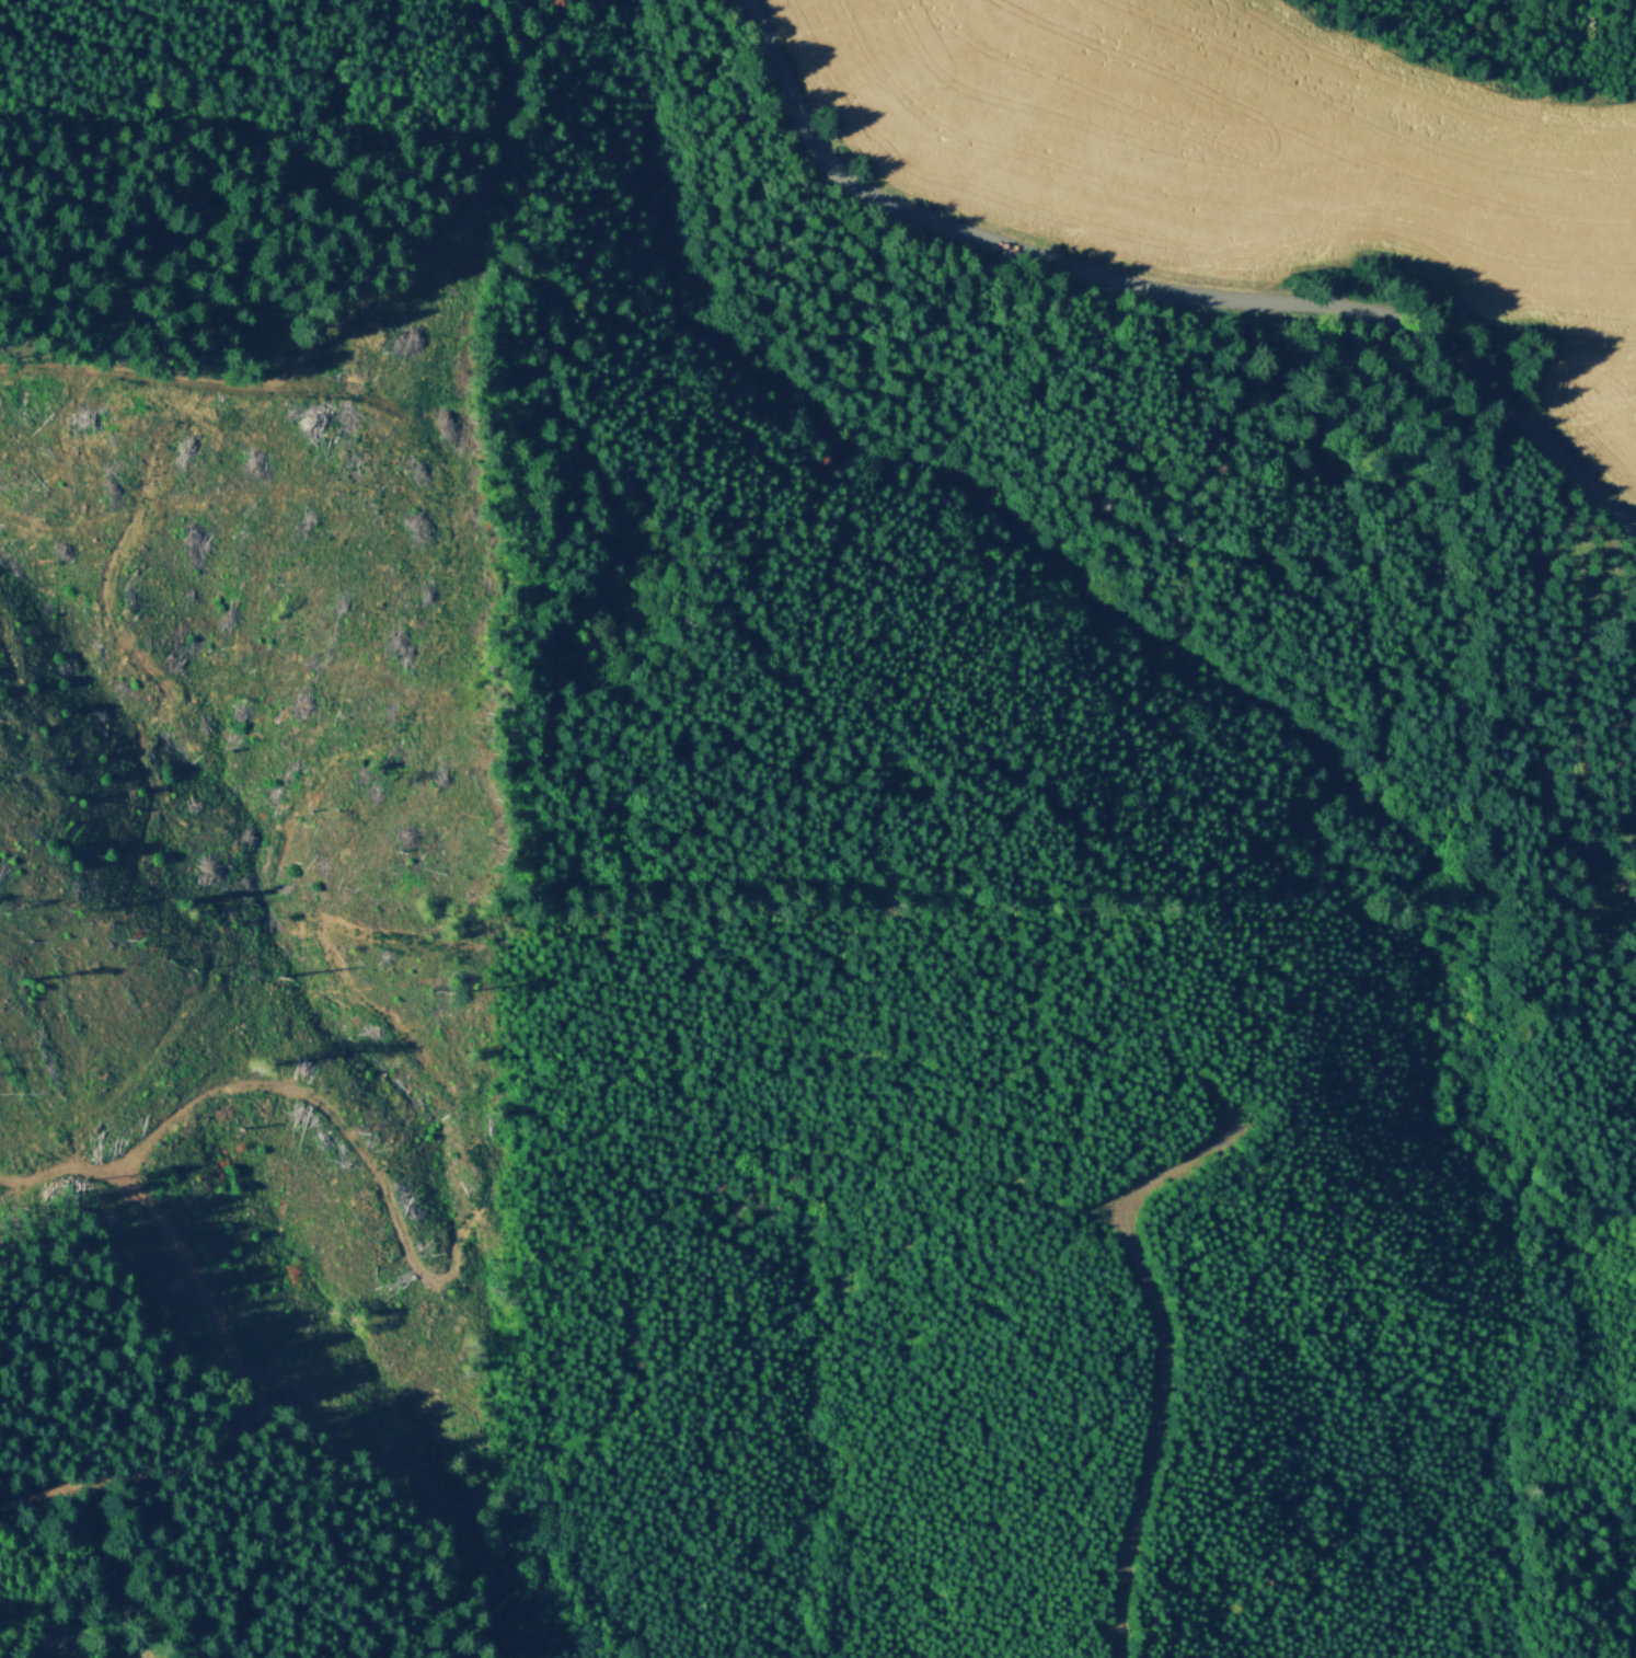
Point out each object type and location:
crop: (1230, 150)
road: (1167, 295)
road: (1472, 327)
crop: (1591, 411)
road: (1163, 1348)
building: (67, 1631)

